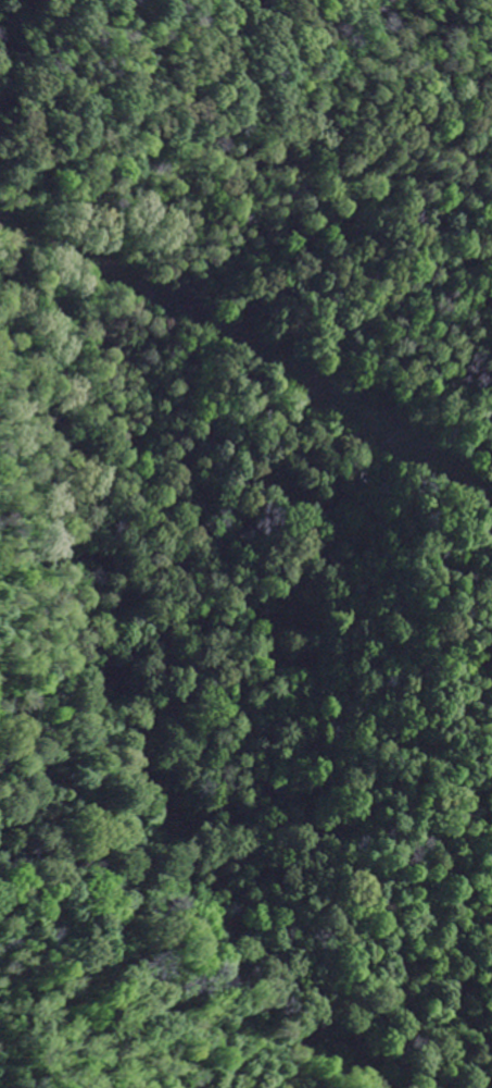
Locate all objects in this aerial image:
road: (247, 360)

